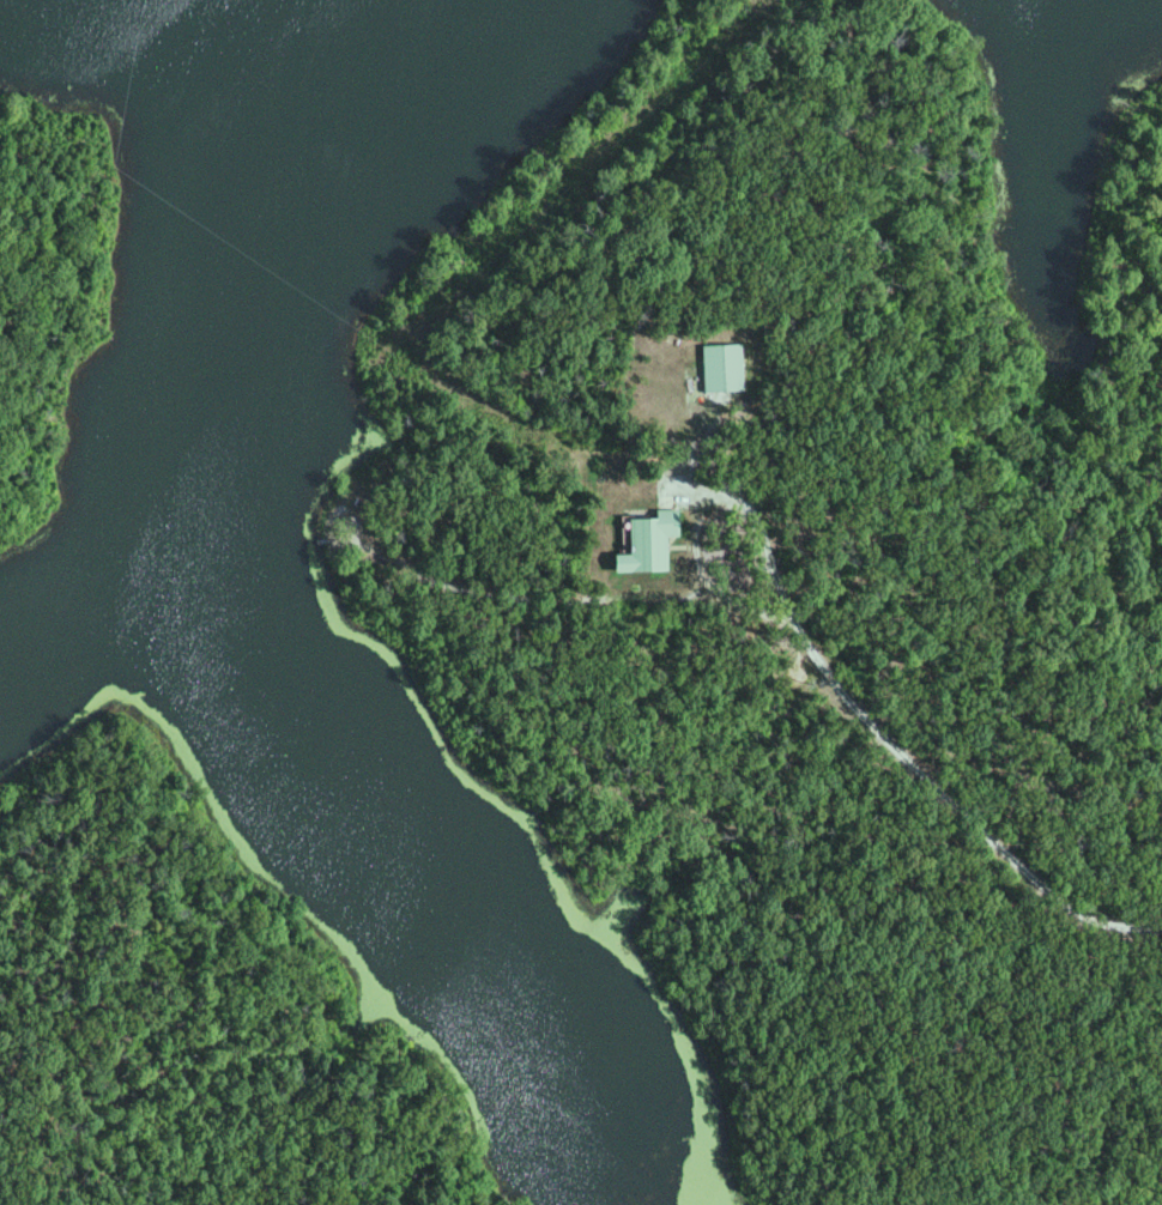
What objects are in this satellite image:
building: (731, 364)
building: (658, 539)

